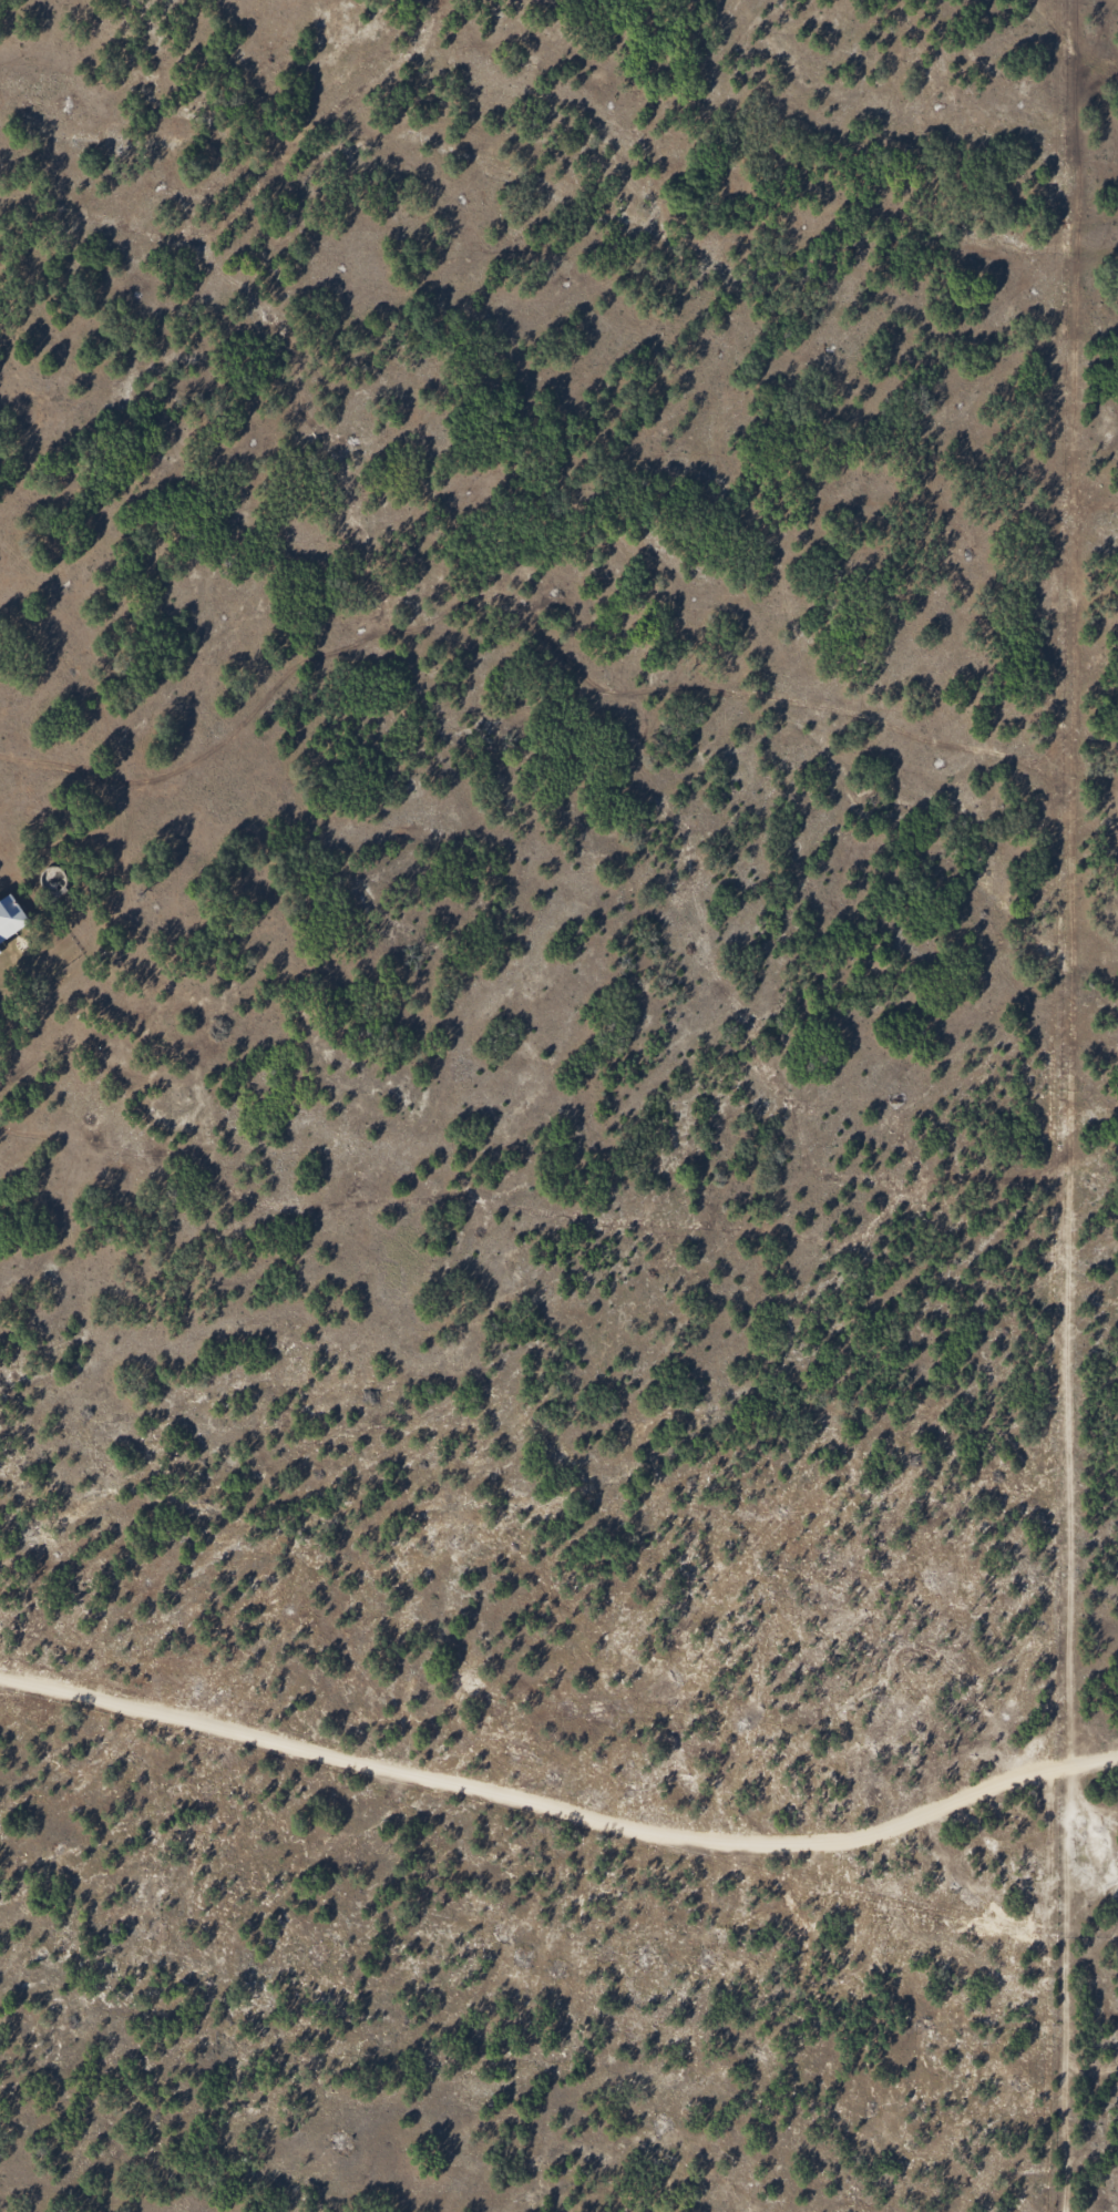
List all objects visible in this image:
building: (11, 918)

